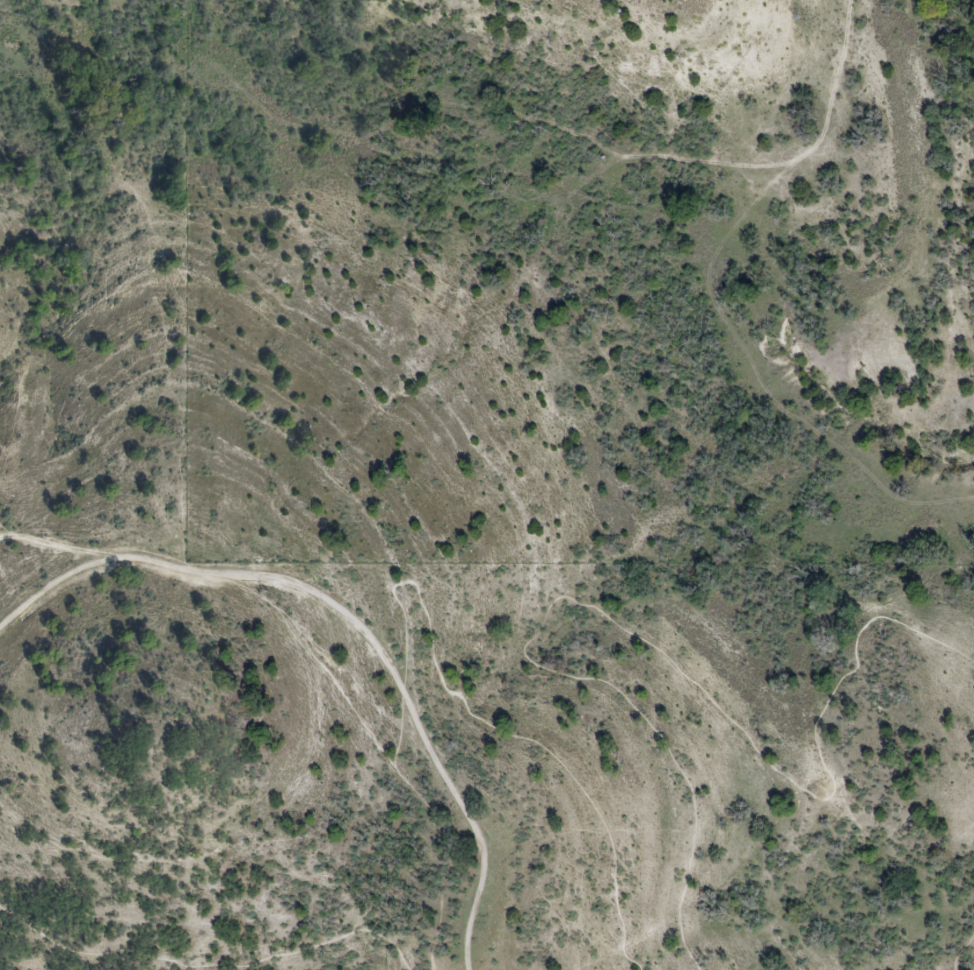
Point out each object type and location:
road: (639, 638)
road: (393, 678)
road: (494, 729)
road: (440, 824)
road: (961, 948)
road: (207, 966)

